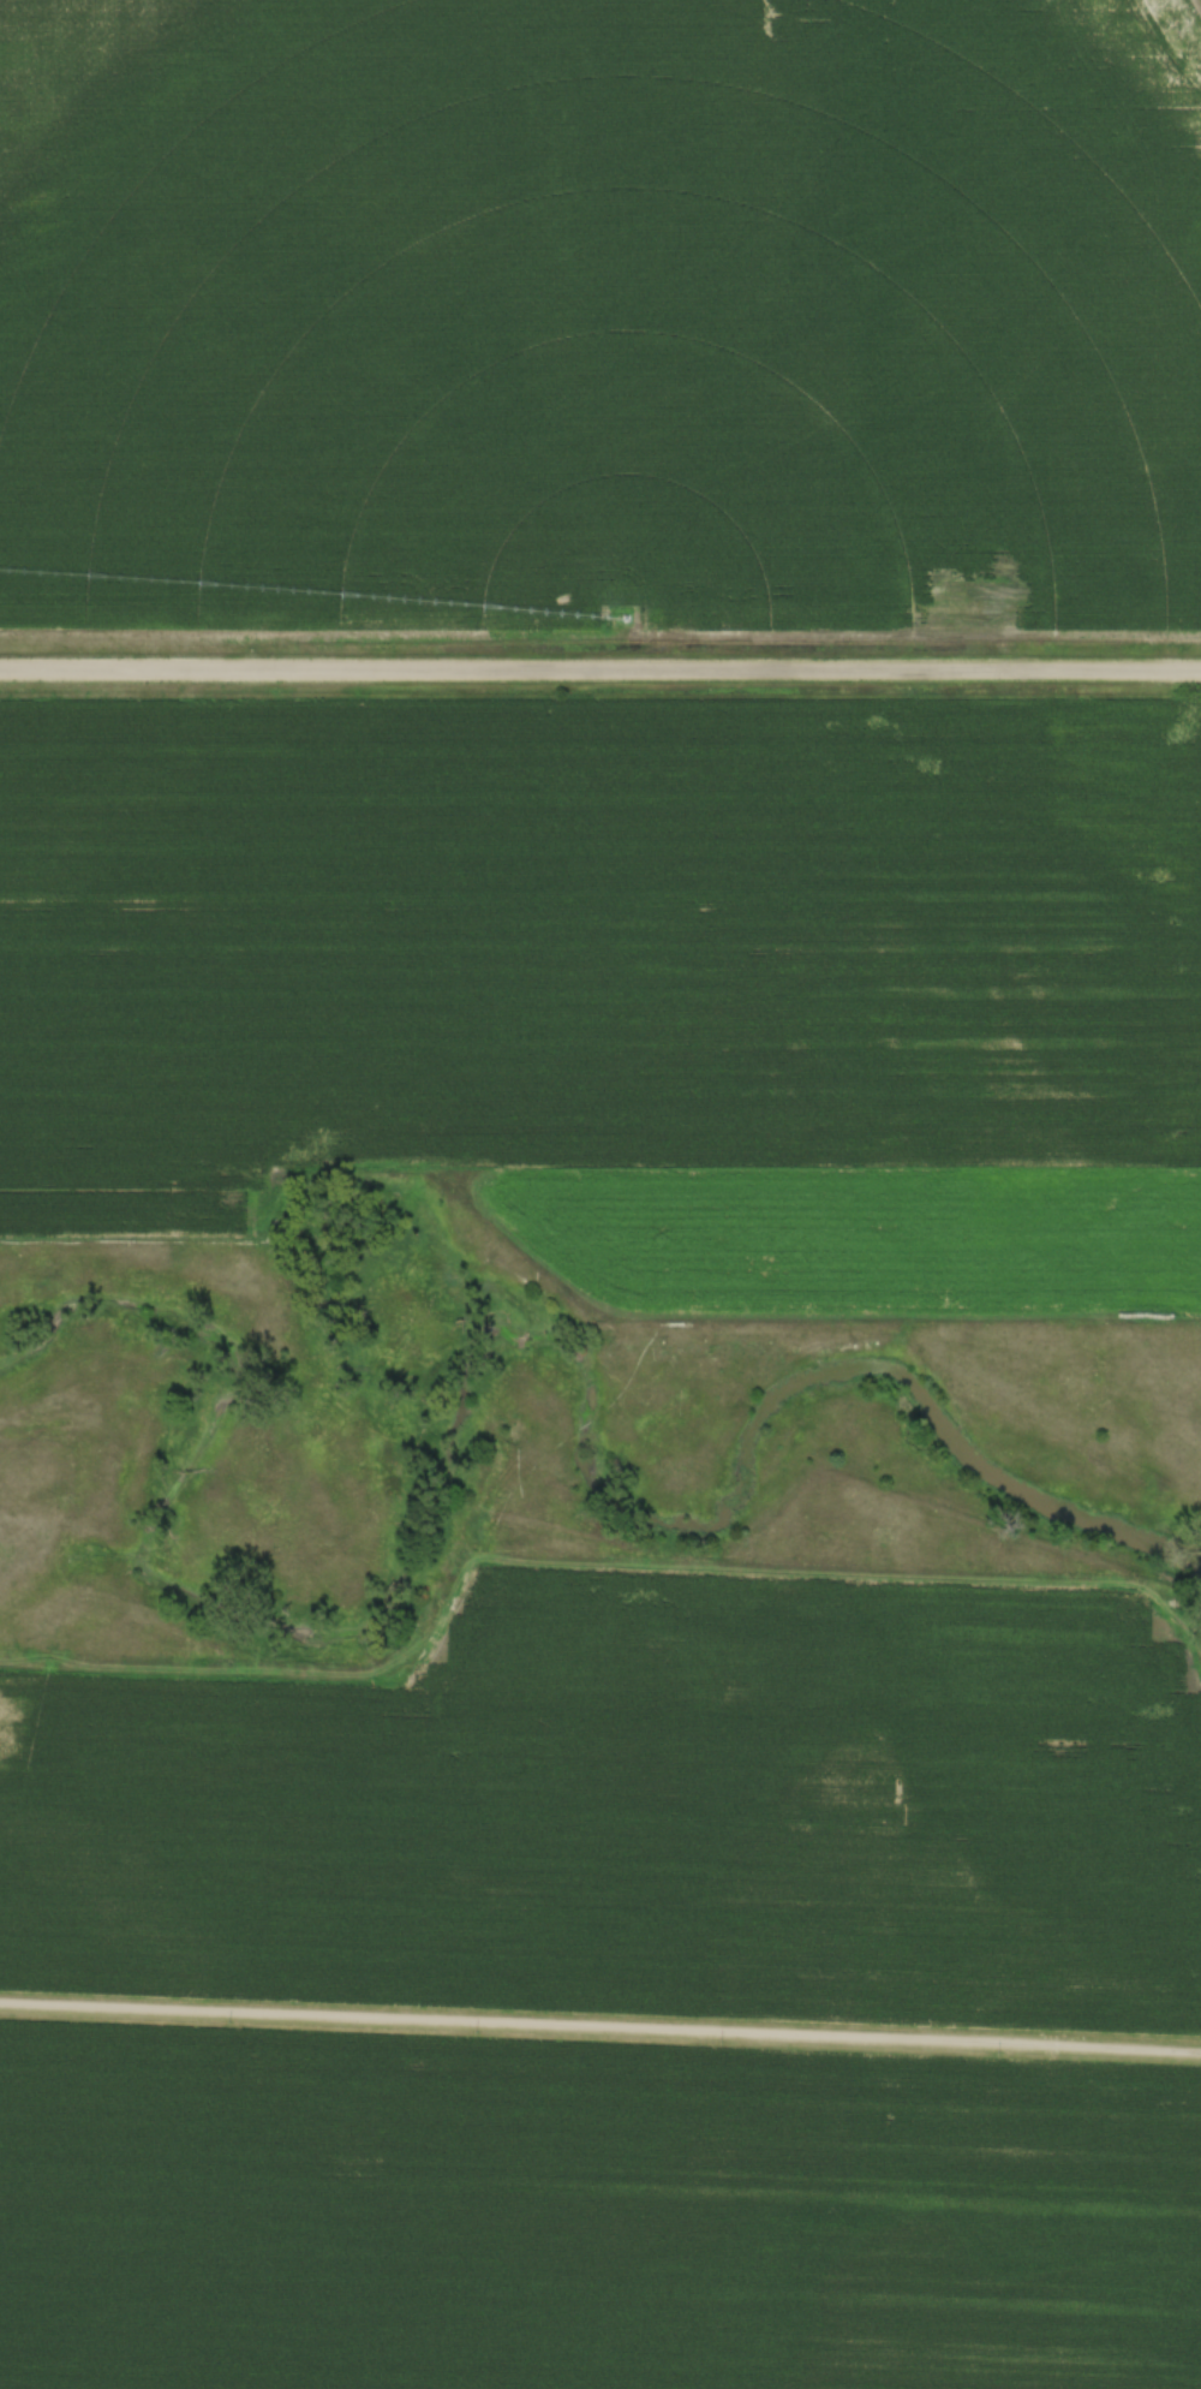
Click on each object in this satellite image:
road: (600, 669)
road: (600, 2030)

